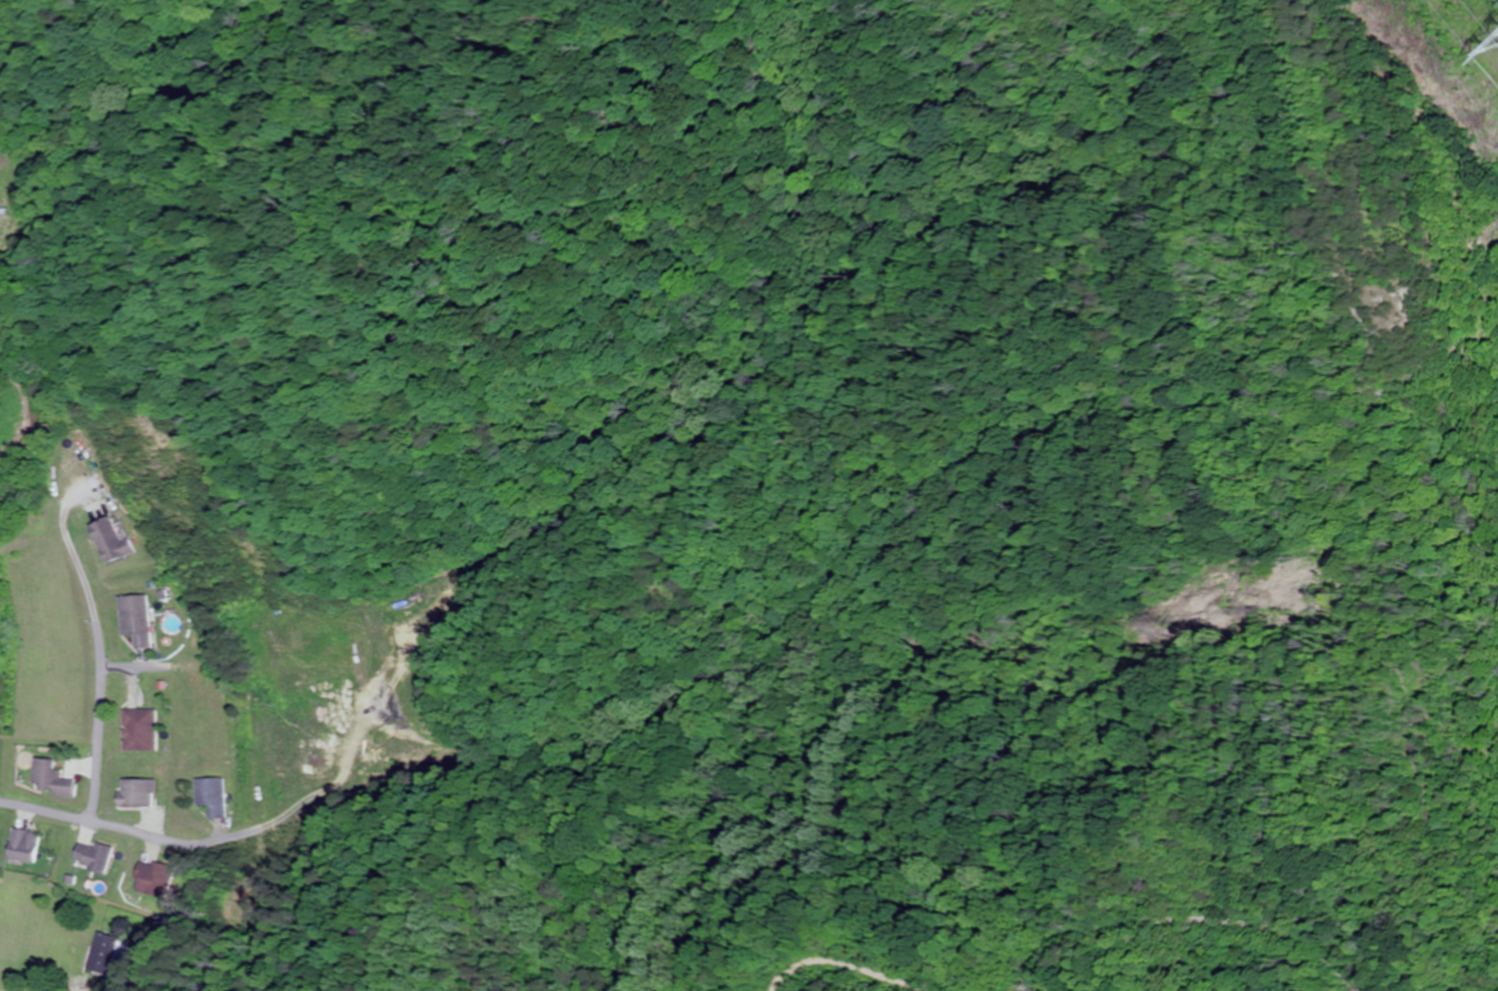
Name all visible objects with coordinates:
power tower: (1481, 33)
building: (112, 540)
building: (137, 619)
building: (141, 729)
building: (51, 779)
building: (137, 793)
building: (212, 795)
building: (24, 845)
building: (94, 855)
building: (155, 878)
road: (1242, 916)
building: (105, 953)
road: (938, 974)

